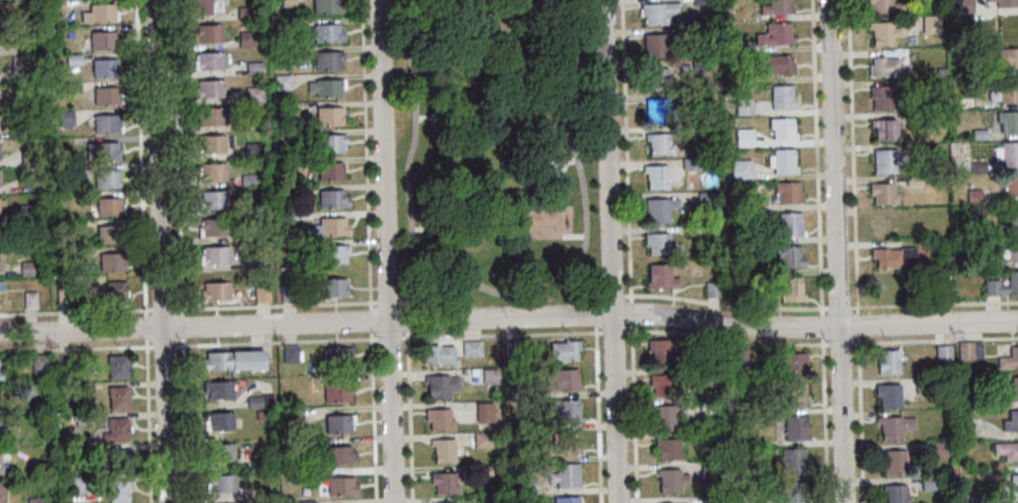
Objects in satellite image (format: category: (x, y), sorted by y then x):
building: (988, 0)
building: (287, 2)
building: (699, 2)
building: (1006, 3)
building: (55, 5)
building: (206, 6)
building: (327, 6)
building: (884, 6)
building: (964, 6)
building: (775, 7)
building: (658, 12)
building: (99, 13)
building: (245, 13)
building: (930, 24)
building: (282, 26)
building: (324, 32)
building: (696, 32)
building: (208, 33)
building: (882, 33)
building: (774, 34)
building: (246, 39)
building: (102, 40)
building: (656, 44)
building: (740, 46)
building: (283, 54)
building: (1005, 57)
building: (72, 59)
building: (328, 59)
building: (208, 60)
building: (778, 64)
building: (698, 65)
building: (104, 67)
building: (253, 67)
building: (887, 67)
building: (19, 69)
building: (939, 71)
building: (656, 78)
building: (282, 82)
building: (72, 87)
building: (326, 87)
building: (209, 88)
building: (1005, 91)
building: (253, 94)
building: (106, 96)
building: (691, 97)
building: (781, 97)
building: (882, 97)
building: (742, 106)
building: (288, 109)
road: (440, 110)
building: (657, 110)
building: (329, 115)
building: (210, 116)
road: (422, 116)
building: (913, 116)
building: (65, 118)
building: (1008, 121)
building: (249, 122)
building: (106, 123)
building: (781, 128)
building: (883, 128)
building: (692, 130)
building: (17, 132)
building: (978, 134)
building: (211, 142)
building: (330, 142)
building: (658, 143)
building: (252, 149)
park: (496, 149)
building: (0, 151)
building: (101, 151)
building: (1006, 153)
building: (28, 157)
road: (559, 158)
building: (886, 160)
road: (570, 161)
building: (783, 161)
building: (689, 163)
building: (977, 167)
building: (77, 169)
building: (740, 169)
building: (330, 171)
building: (211, 172)
building: (655, 176)
building: (0, 178)
building: (106, 178)
building: (248, 179)
building: (913, 180)
building: (1010, 185)
building: (302, 190)
building: (787, 192)
building: (882, 193)
building: (973, 196)
building: (332, 198)
building: (704, 199)
building: (212, 200)
building: (2, 202)
building: (752, 202)
building: (108, 207)
building: (251, 208)
building: (657, 209)
building: (26, 212)
building: (1012, 217)
building: (789, 224)
building: (885, 224)
building: (212, 227)
building: (330, 227)
road: (417, 229)
building: (694, 230)
building: (109, 235)
road: (573, 237)
building: (35, 239)
building: (660, 244)
building: (1010, 249)
road: (143, 251)
road: (161, 251)
road: (180, 251)
road: (369, 251)
road: (386, 251)
road: (609, 251)
road: (629, 251)
road: (820, 251)
road: (836, 251)
road: (855, 251)
building: (333, 253)
building: (213, 255)
building: (789, 257)
building: (894, 257)
building: (980, 260)
building: (0, 261)
building: (110, 261)
building: (248, 262)
building: (946, 264)
building: (26, 268)
building: (660, 277)
road: (586, 283)
road: (427, 284)
building: (1, 285)
building: (1002, 285)
building: (334, 287)
building: (711, 289)
building: (790, 289)
building: (215, 291)
building: (115, 292)
building: (287, 293)
building: (260, 294)
road: (505, 294)
building: (762, 294)
building: (61, 296)
building: (29, 301)
road: (203, 310)
road: (806, 310)
road: (509, 318)
road: (509, 337)
building: (511, 347)
building: (660, 347)
building: (471, 349)
building: (964, 349)
building: (976, 349)
building: (564, 350)
building: (942, 352)
building: (290, 353)
building: (439, 355)
building: (336, 356)
building: (739, 357)
building: (1009, 359)
building: (233, 360)
building: (509, 360)
building: (888, 362)
building: (38, 363)
building: (792, 364)
building: (117, 367)
building: (66, 372)
building: (712, 375)
building: (1, 376)
building: (489, 376)
building: (561, 380)
building: (661, 384)
building: (922, 384)
building: (440, 386)
building: (217, 389)
building: (1011, 390)
building: (518, 392)
building: (337, 393)
building: (794, 395)
building: (888, 395)
building: (118, 398)
road: (598, 400)
building: (259, 401)
road: (409, 402)
building: (1006, 403)
building: (706, 404)
building: (759, 408)
building: (484, 412)
building: (562, 412)
building: (258, 415)
building: (290, 416)
building: (663, 416)
building: (81, 419)
building: (439, 419)
building: (219, 421)
building: (1011, 421)
building: (3, 423)
building: (338, 423)
building: (510, 424)
building: (893, 426)
building: (794, 428)
building: (115, 430)
building: (482, 440)
building: (748, 441)
building: (301, 443)
building: (564, 443)
building: (668, 449)
building: (937, 449)
building: (443, 450)
building: (1006, 450)
building: (219, 453)
building: (3, 454)
building: (339, 455)
building: (118, 460)
building: (790, 460)
building: (1, 461)
building: (893, 461)
building: (257, 464)
building: (751, 466)
building: (709, 470)
building: (482, 471)
building: (312, 473)
building: (565, 475)
building: (670, 480)
building: (444, 482)
building: (928, 483)
building: (220, 484)
building: (80, 485)
building: (341, 486)
building: (528, 486)
building: (1013, 486)
building: (118, 491)
building: (792, 492)
building: (895, 493)
building: (1, 494)
building: (970, 497)
building: (748, 499)
building: (34, 500)
building: (565, 500)
building: (709, 500)
building: (306, 502)
building: (448, 502)

